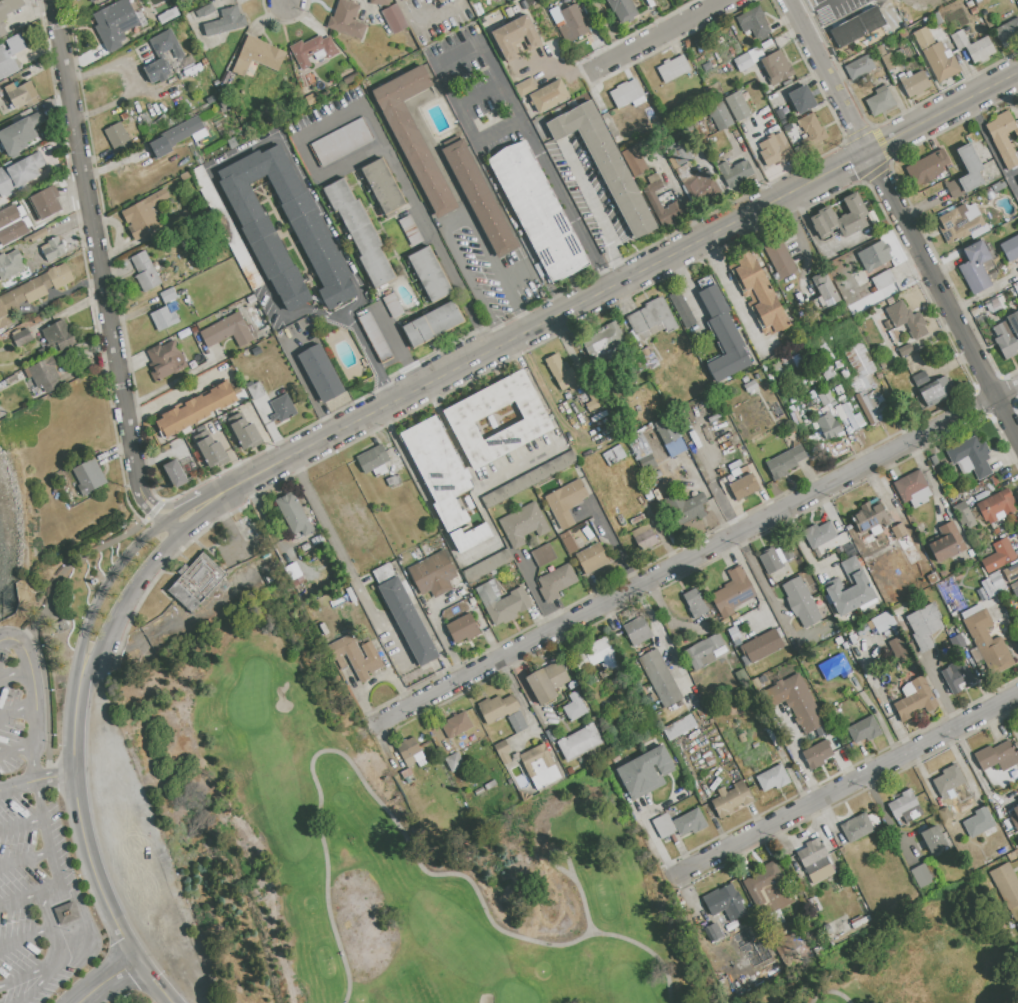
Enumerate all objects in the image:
building: (91, 0)
building: (402, 0)
building: (404, 0)
building: (441, 1)
road: (284, 2)
building: (379, 2)
building: (623, 9)
building: (204, 11)
building: (7, 12)
building: (1006, 15)
building: (937, 16)
building: (167, 17)
building: (394, 19)
building: (346, 20)
building: (226, 21)
road: (426, 22)
building: (569, 22)
building: (114, 24)
building: (755, 24)
building: (856, 27)
building: (1008, 31)
road: (655, 36)
building: (516, 37)
building: (18, 42)
building: (688, 42)
building: (166, 44)
building: (973, 46)
building: (312, 50)
building: (755, 54)
building: (257, 55)
building: (936, 55)
building: (886, 58)
building: (743, 61)
building: (7, 63)
building: (706, 66)
building: (725, 67)
building: (777, 67)
building: (860, 67)
building: (673, 68)
building: (156, 71)
road: (826, 75)
road: (1016, 75)
building: (225, 77)
building: (352, 80)
road: (501, 82)
building: (914, 83)
building: (525, 87)
building: (626, 93)
building: (21, 94)
road: (480, 94)
building: (549, 96)
building: (210, 99)
building: (802, 99)
building: (879, 101)
road: (458, 104)
building: (224, 106)
building: (738, 106)
building: (297, 109)
road: (942, 111)
building: (720, 115)
building: (123, 116)
building: (812, 129)
building: (1016, 129)
building: (22, 134)
building: (176, 136)
building: (414, 136)
building: (1003, 137)
building: (118, 138)
building: (342, 141)
building: (232, 143)
road: (381, 145)
building: (774, 149)
building: (680, 152)
building: (185, 157)
road: (231, 159)
building: (634, 161)
building: (606, 164)
building: (926, 167)
building: (972, 167)
building: (735, 171)
building: (20, 172)
building: (685, 173)
building: (186, 175)
building: (652, 179)
building: (383, 185)
building: (997, 186)
building: (701, 188)
building: (954, 190)
building: (989, 193)
building: (480, 198)
building: (46, 201)
road: (567, 203)
building: (654, 203)
road: (595, 210)
building: (538, 211)
building: (144, 214)
building: (178, 217)
building: (840, 218)
road: (455, 222)
building: (11, 224)
building: (957, 224)
building: (226, 226)
building: (410, 229)
building: (982, 231)
building: (360, 232)
building: (37, 235)
building: (1010, 247)
building: (53, 249)
road: (95, 249)
building: (943, 250)
building: (269, 252)
building: (874, 256)
building: (779, 257)
building: (52, 262)
building: (11, 265)
building: (978, 266)
building: (145, 272)
building: (430, 274)
building: (60, 275)
road: (514, 275)
building: (859, 279)
building: (881, 281)
road: (686, 285)
building: (826, 288)
building: (761, 292)
road: (731, 293)
building: (169, 295)
road: (942, 296)
building: (22, 297)
building: (251, 299)
building: (392, 304)
road: (578, 304)
building: (995, 305)
building: (163, 318)
building: (906, 319)
building: (36, 320)
road: (523, 320)
building: (649, 320)
building: (433, 324)
building: (887, 324)
building: (194, 330)
building: (227, 331)
building: (722, 332)
road: (496, 334)
building: (59, 335)
building: (1007, 335)
building: (375, 336)
building: (21, 337)
building: (603, 342)
building: (823, 348)
building: (905, 350)
building: (42, 352)
building: (246, 352)
building: (647, 358)
road: (369, 359)
building: (165, 360)
building: (798, 360)
building: (882, 365)
building: (776, 366)
building: (765, 367)
building: (827, 372)
building: (321, 373)
building: (562, 373)
building: (845, 373)
building: (44, 374)
building: (11, 379)
building: (812, 379)
building: (920, 379)
building: (745, 380)
building: (3, 383)
road: (305, 384)
building: (866, 385)
building: (750, 386)
building: (256, 390)
building: (838, 390)
building: (935, 392)
building: (567, 396)
building: (826, 397)
building: (841, 398)
building: (282, 408)
building: (637, 408)
building: (197, 409)
building: (824, 409)
building: (849, 416)
building: (796, 418)
building: (460, 420)
building: (805, 421)
building: (829, 426)
building: (667, 430)
building: (245, 432)
building: (639, 445)
building: (676, 447)
building: (212, 451)
building: (614, 455)
building: (970, 457)
building: (372, 458)
building: (784, 462)
building: (647, 463)
building: (438, 470)
building: (735, 472)
building: (175, 474)
road: (255, 474)
building: (89, 476)
building: (528, 479)
building: (994, 480)
building: (393, 481)
building: (61, 482)
building: (743, 487)
building: (912, 488)
road: (210, 493)
building: (721, 500)
building: (564, 503)
road: (170, 506)
building: (997, 506)
building: (689, 508)
road: (181, 510)
road: (148, 513)
road: (204, 514)
building: (964, 514)
building: (294, 515)
building: (870, 518)
building: (522, 524)
road: (172, 528)
building: (921, 529)
building: (819, 534)
building: (644, 536)
building: (469, 538)
building: (868, 539)
building: (317, 540)
building: (906, 542)
building: (946, 543)
building: (569, 545)
building: (305, 547)
road: (480, 552)
road: (699, 552)
building: (786, 553)
building: (542, 555)
building: (998, 555)
building: (592, 558)
building: (770, 560)
road: (344, 561)
building: (488, 566)
building: (1011, 571)
building: (433, 574)
building: (196, 581)
building: (556, 583)
building: (991, 584)
building: (850, 587)
building: (1014, 587)
road: (103, 589)
building: (732, 592)
road: (126, 600)
building: (502, 601)
building: (800, 602)
building: (694, 603)
building: (406, 616)
building: (877, 623)
building: (925, 625)
building: (61, 626)
building: (462, 629)
building: (637, 631)
building: (895, 631)
building: (885, 632)
building: (733, 633)
road: (662, 640)
building: (986, 640)
building: (957, 642)
building: (762, 645)
building: (897, 647)
building: (707, 651)
building: (597, 655)
building: (355, 656)
building: (835, 667)
road: (13, 671)
building: (957, 676)
building: (660, 678)
building: (547, 681)
road: (940, 693)
building: (915, 699)
building: (794, 701)
road: (35, 702)
building: (575, 706)
building: (497, 707)
road: (17, 708)
building: (518, 722)
building: (456, 724)
building: (679, 727)
building: (864, 730)
building: (580, 742)
building: (836, 746)
road: (17, 749)
building: (503, 751)
building: (411, 752)
building: (817, 755)
building: (997, 757)
building: (454, 761)
road: (801, 761)
building: (540, 766)
building: (645, 772)
building: (407, 776)
building: (772, 778)
road: (36, 780)
building: (948, 782)
road: (847, 784)
building: (490, 785)
building: (731, 799)
building: (905, 807)
building: (945, 815)
building: (1015, 817)
road: (42, 822)
building: (979, 822)
building: (690, 823)
building: (663, 825)
building: (856, 828)
building: (933, 838)
road: (657, 842)
road: (86, 850)
building: (1002, 851)
park: (379, 852)
road: (25, 859)
building: (815, 861)
building: (922, 875)
road: (58, 884)
building: (1006, 884)
building: (768, 889)
building: (724, 903)
building: (859, 921)
building: (1017, 925)
building: (789, 926)
building: (712, 932)
building: (751, 934)
road: (25, 937)
road: (59, 957)
park: (918, 960)
building: (718, 965)
road: (106, 979)
road: (40, 983)
building: (727, 984)

